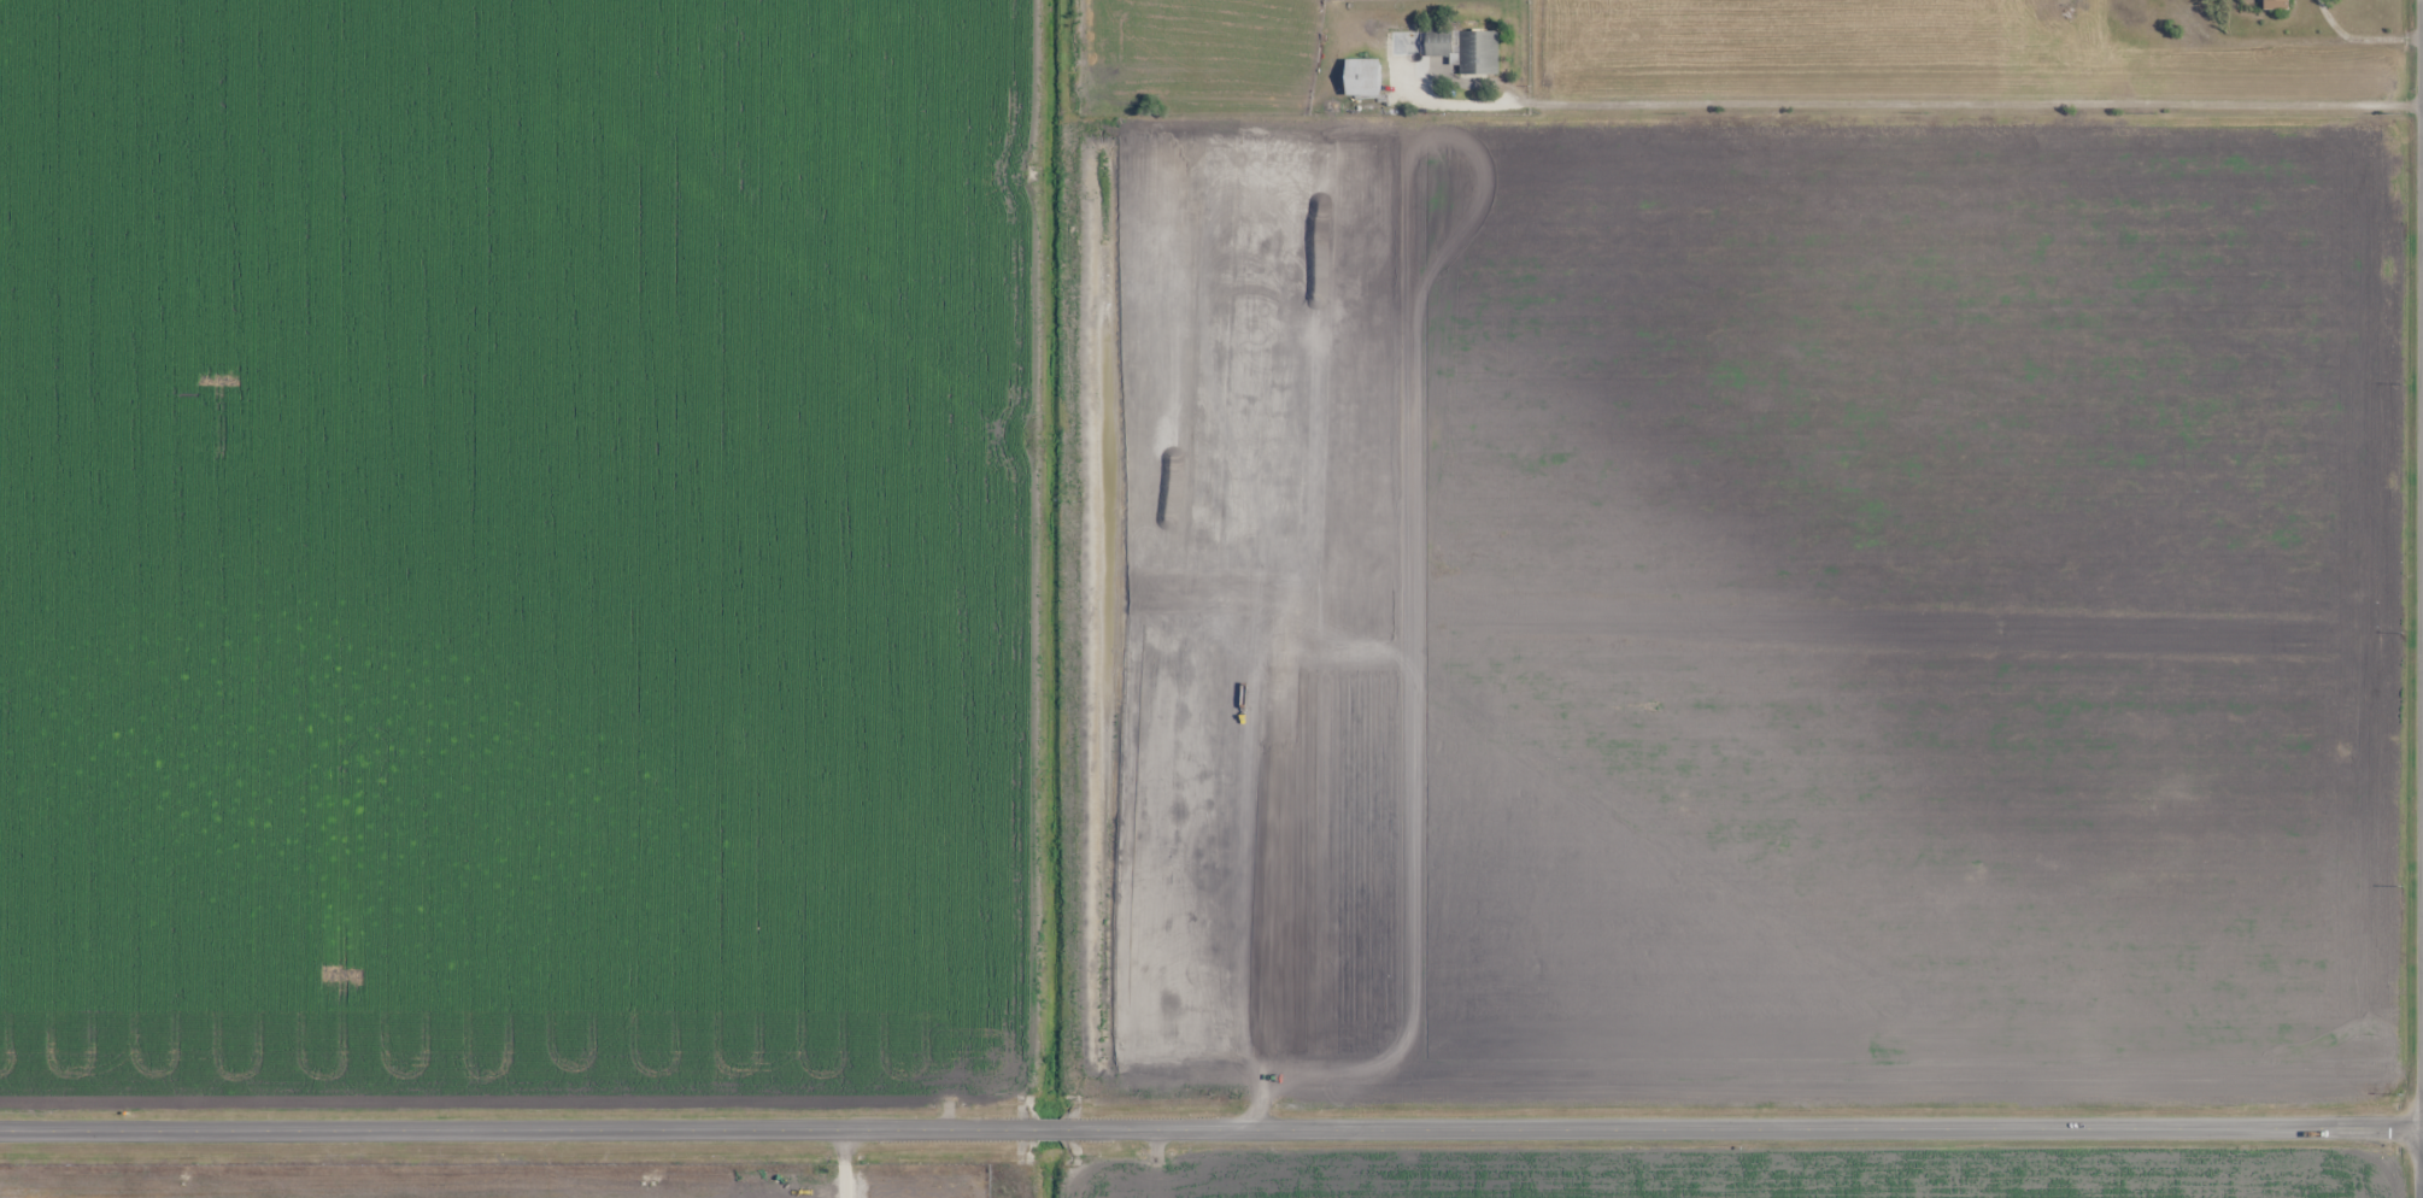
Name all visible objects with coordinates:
building: (2276, 5)
building: (1461, 48)
building: (1365, 76)
road: (1960, 104)
road: (2419, 343)
road: (1741, 1124)
road: (514, 1127)
road: (1044, 1127)

